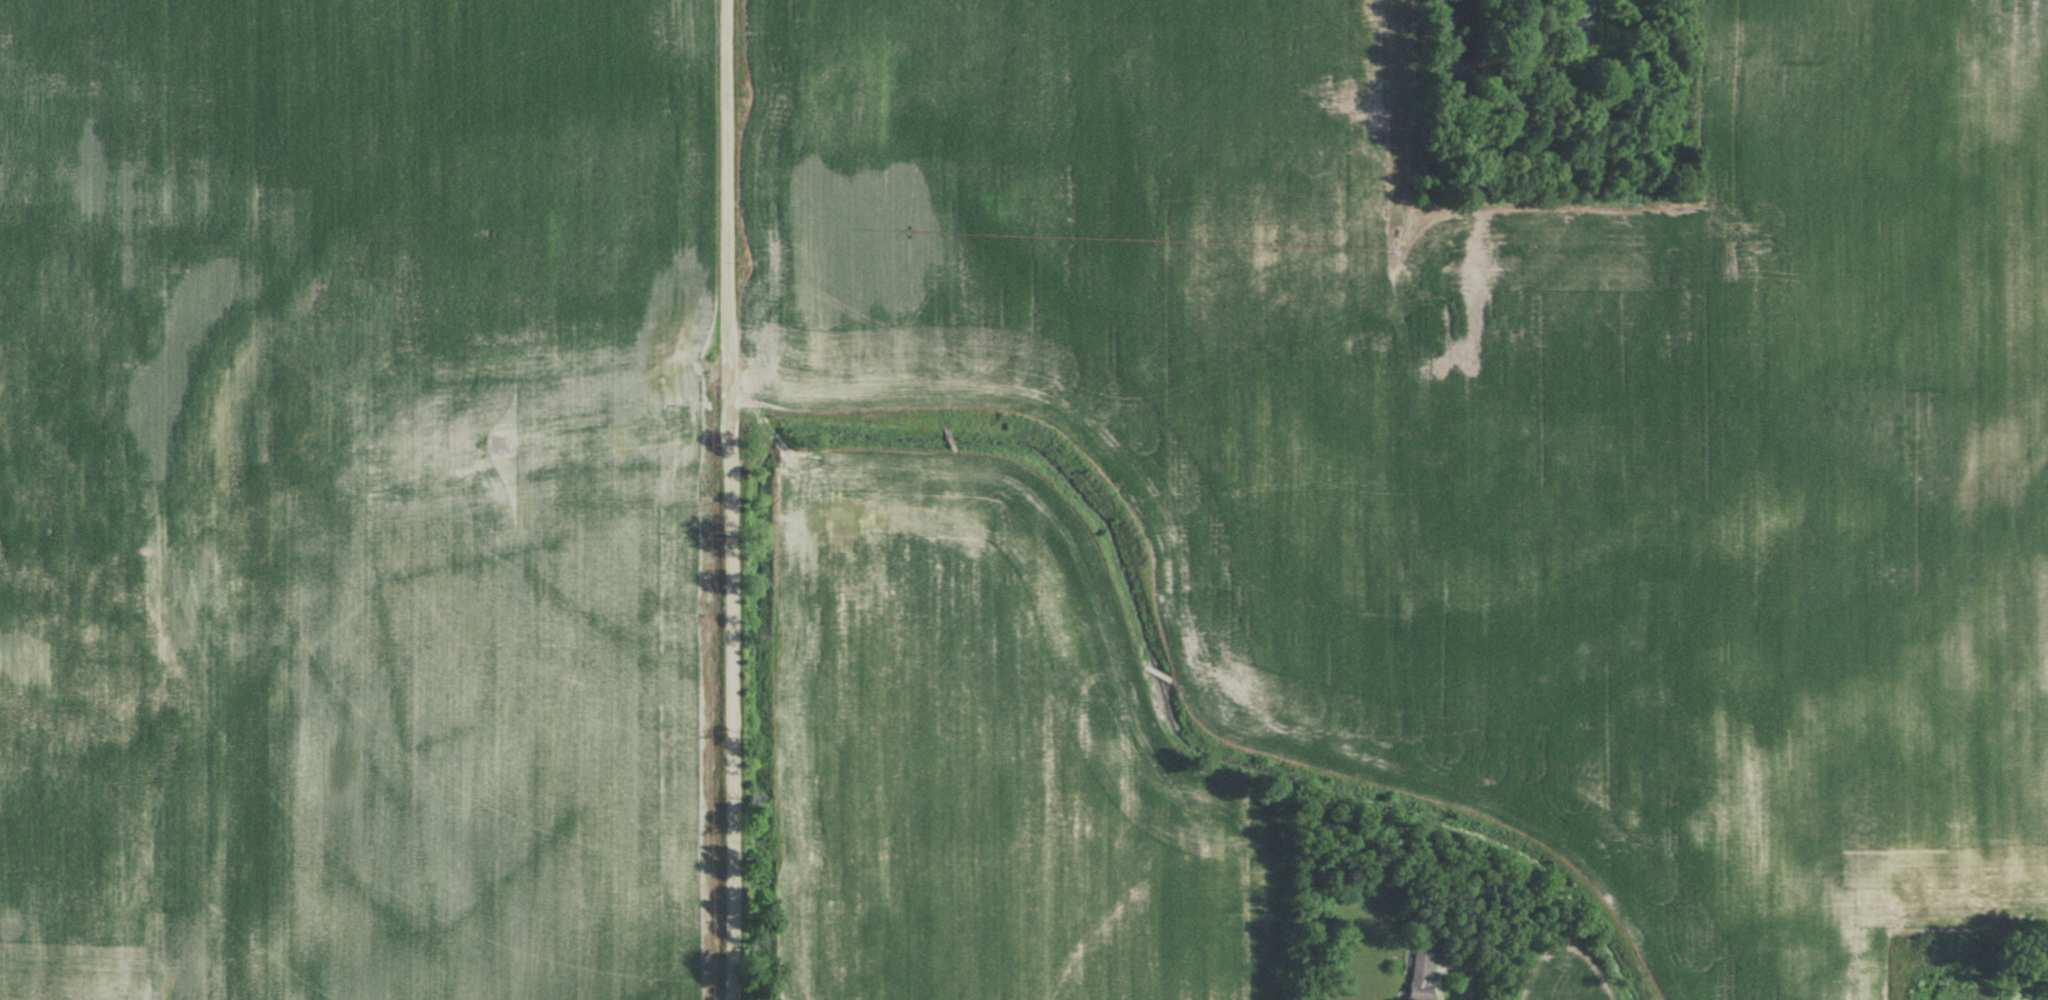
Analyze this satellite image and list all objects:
road: (742, 499)
building: (1417, 974)
road: (1455, 991)

